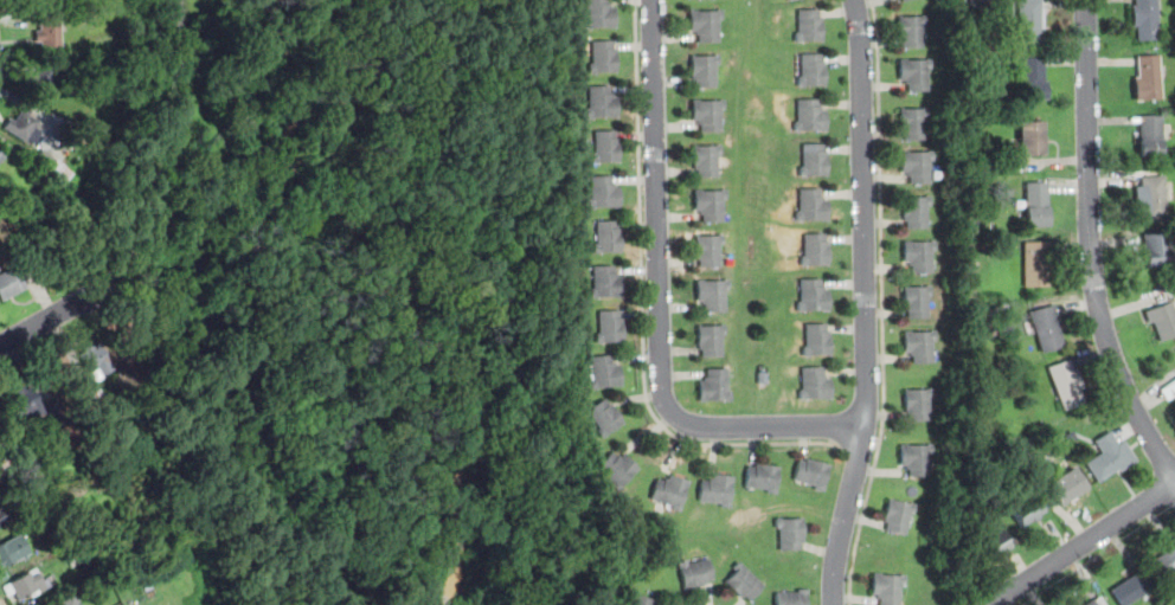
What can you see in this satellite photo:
building: (791, 0)
building: (906, 1)
building: (601, 14)
building: (1028, 21)
building: (1145, 21)
building: (706, 24)
building: (809, 28)
building: (912, 33)
building: (47, 36)
building: (604, 57)
building: (704, 70)
building: (813, 73)
building: (916, 76)
building: (1033, 81)
building: (1149, 82)
building: (44, 83)
building: (604, 101)
building: (708, 114)
building: (810, 118)
building: (914, 125)
building: (24, 128)
building: (1152, 140)
building: (1033, 142)
building: (605, 146)
road: (166, 147)
building: (1, 159)
building: (706, 160)
building: (814, 162)
building: (46, 166)
building: (918, 168)
building: (32, 180)
building: (606, 192)
building: (1155, 200)
building: (712, 204)
building: (1036, 205)
building: (813, 207)
building: (914, 213)
building: (608, 237)
road: (1092, 247)
building: (710, 250)
building: (815, 253)
building: (1158, 253)
building: (919, 257)
building: (1036, 265)
park: (347, 281)
building: (608, 282)
building: (12, 284)
building: (713, 294)
building: (813, 297)
building: (916, 302)
road: (881, 303)
road: (642, 307)
road: (56, 317)
building: (1163, 323)
building: (610, 327)
building: (1008, 330)
building: (1048, 330)
building: (711, 340)
building: (817, 342)
building: (920, 347)
building: (96, 361)
building: (605, 372)
building: (1027, 385)
building: (715, 386)
building: (815, 386)
building: (1171, 386)
building: (1067, 387)
building: (97, 392)
building: (1170, 394)
building: (919, 404)
building: (26, 405)
building: (49, 407)
building: (605, 418)
road: (771, 429)
road: (840, 433)
building: (1109, 456)
building: (917, 459)
building: (619, 470)
building: (814, 474)
building: (764, 478)
building: (1070, 485)
building: (719, 489)
building: (672, 491)
building: (1027, 510)
road: (847, 515)
building: (898, 515)
building: (2, 516)
building: (791, 533)
road: (1083, 543)
building: (994, 546)
building: (11, 552)
building: (73, 562)
building: (1164, 566)
building: (696, 573)
building: (745, 584)
building: (30, 585)
building: (888, 588)
building: (1130, 591)
building: (794, 598)
building: (642, 600)
building: (68, 601)
building: (1098, 603)

